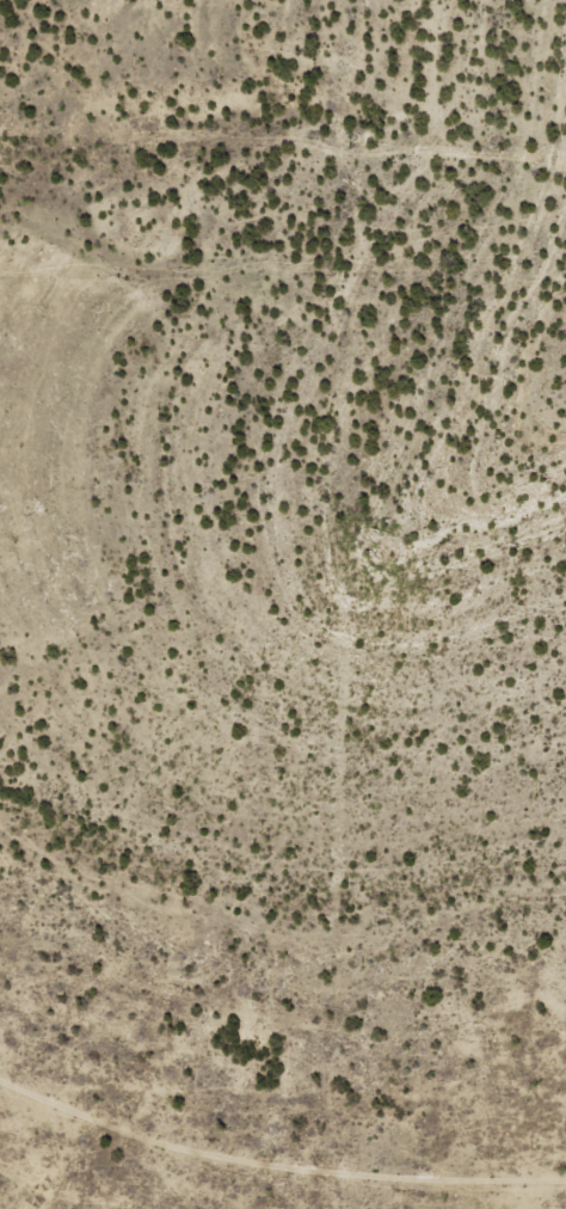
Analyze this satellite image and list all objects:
road: (183, 1118)

